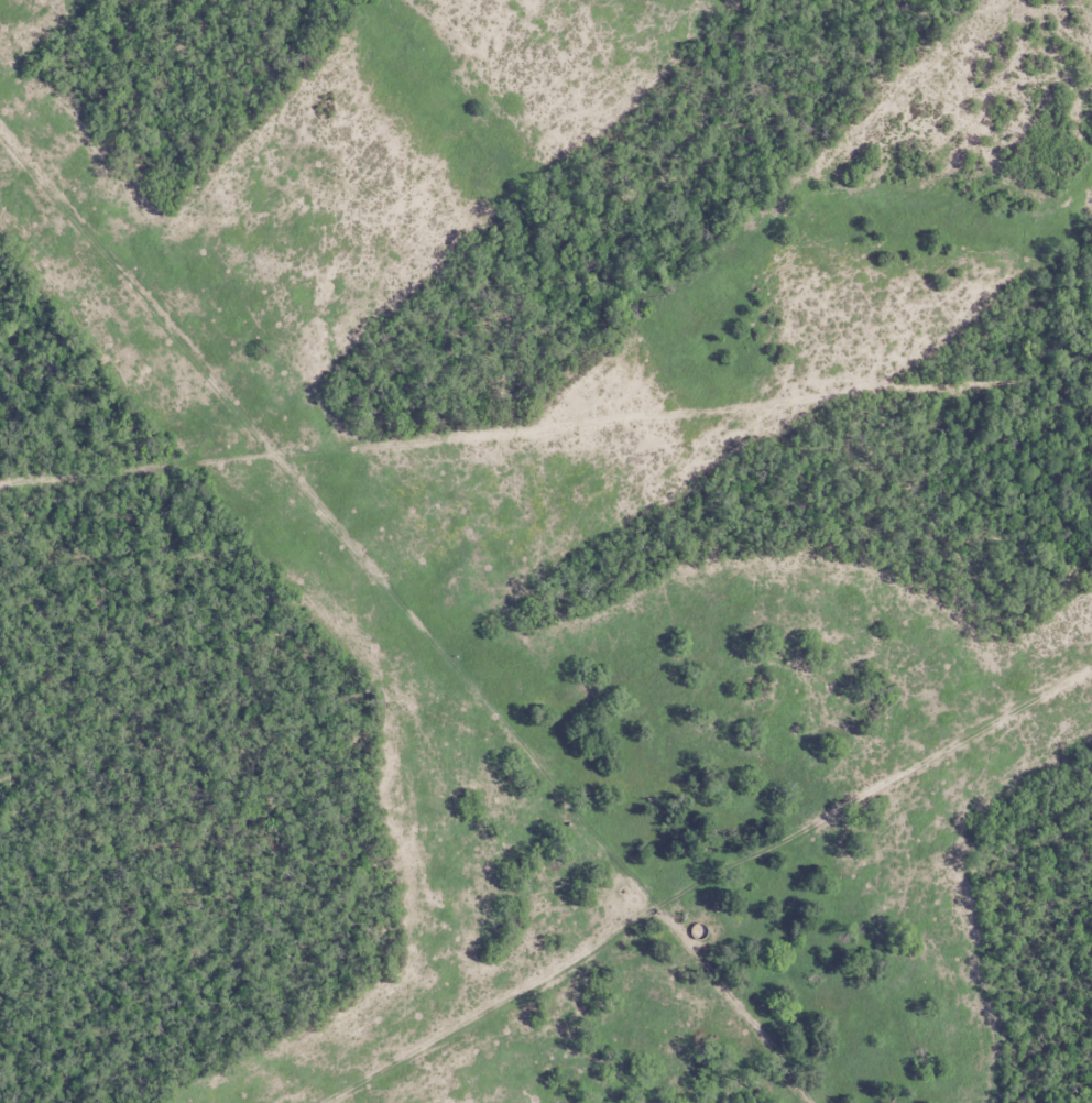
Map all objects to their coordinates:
road: (743, 1078)

